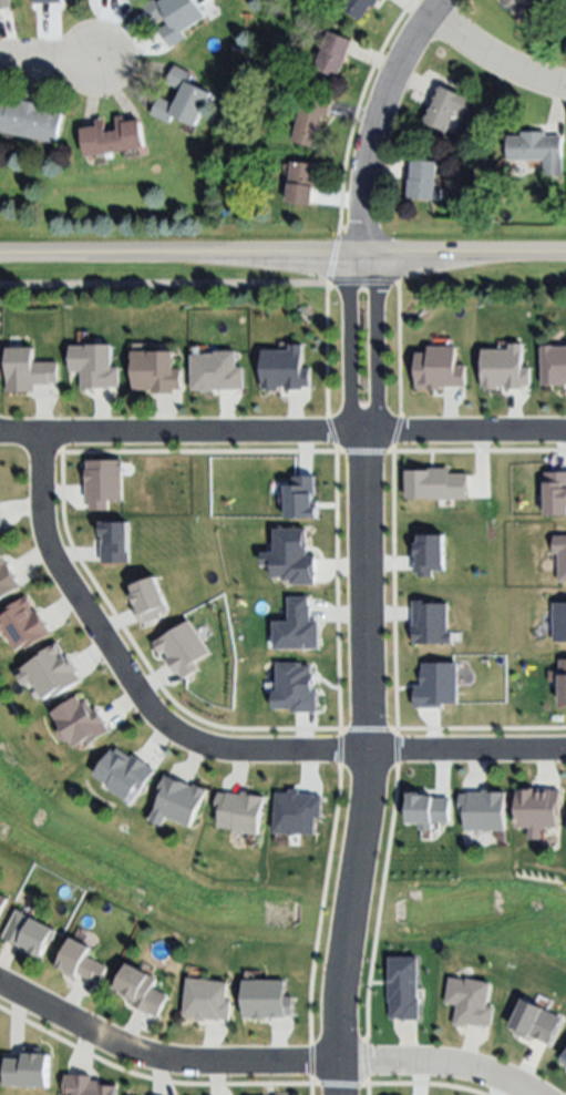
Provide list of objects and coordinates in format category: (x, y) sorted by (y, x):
building: (48, 1)
building: (4, 4)
building: (518, 4)
building: (359, 7)
building: (175, 17)
building: (333, 53)
road: (49, 59)
road: (495, 61)
building: (182, 99)
building: (446, 108)
road: (358, 110)
road: (377, 117)
building: (30, 119)
building: (310, 119)
building: (112, 137)
building: (537, 150)
building: (423, 181)
building: (300, 183)
road: (282, 255)
road: (373, 344)
road: (346, 345)
building: (158, 372)
road: (302, 434)
road: (19, 436)
building: (2, 529)
road: (222, 593)
road: (503, 593)
road: (197, 748)
road: (366, 765)
building: (120, 777)
building: (236, 817)
park: (287, 892)
building: (3, 905)
building: (30, 932)
building: (82, 960)
building: (144, 989)
road: (260, 1065)

